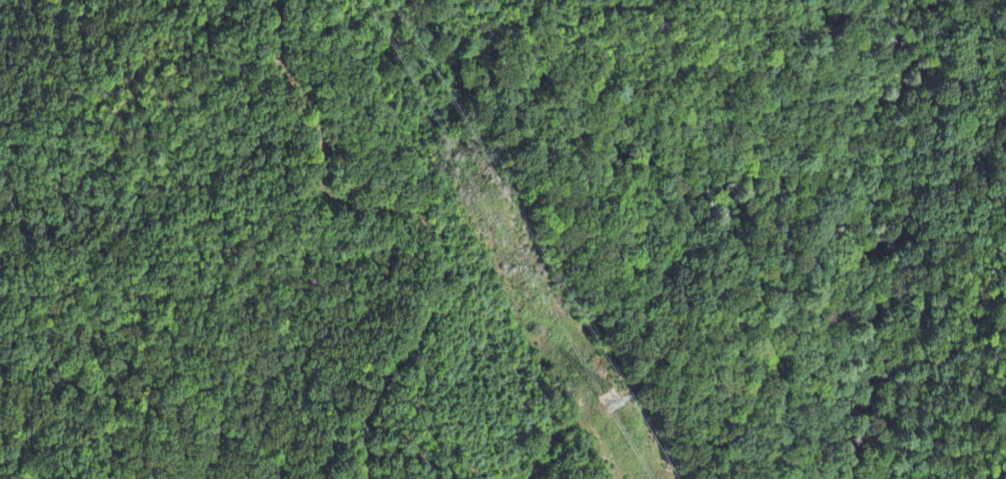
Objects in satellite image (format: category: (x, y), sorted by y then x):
power tower: (617, 403)

